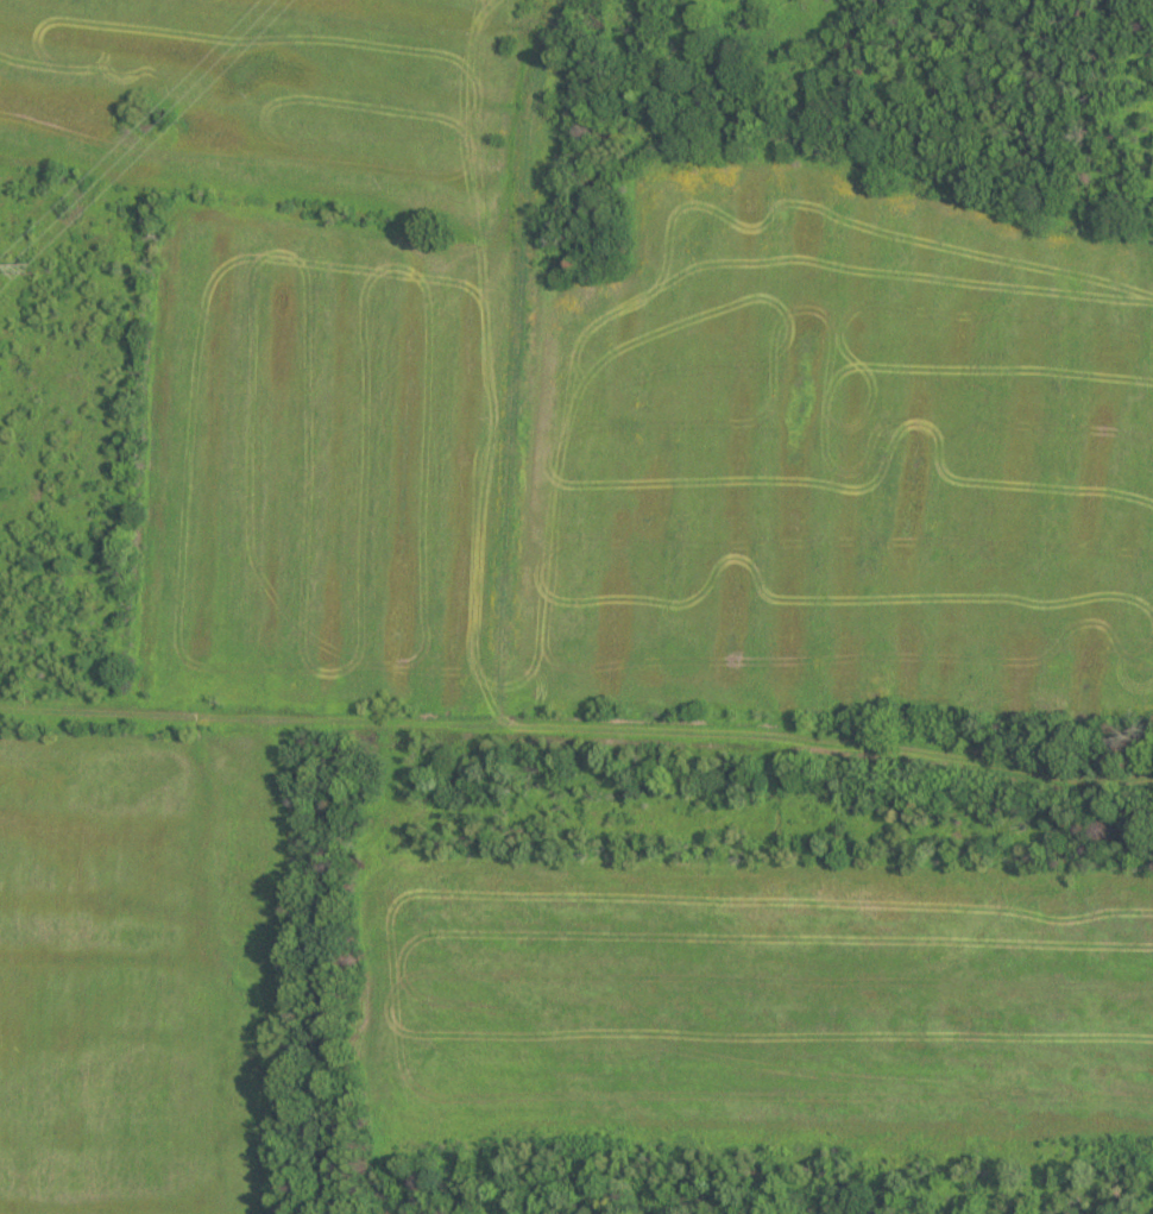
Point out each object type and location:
power tower: (37, 266)
road: (578, 731)

